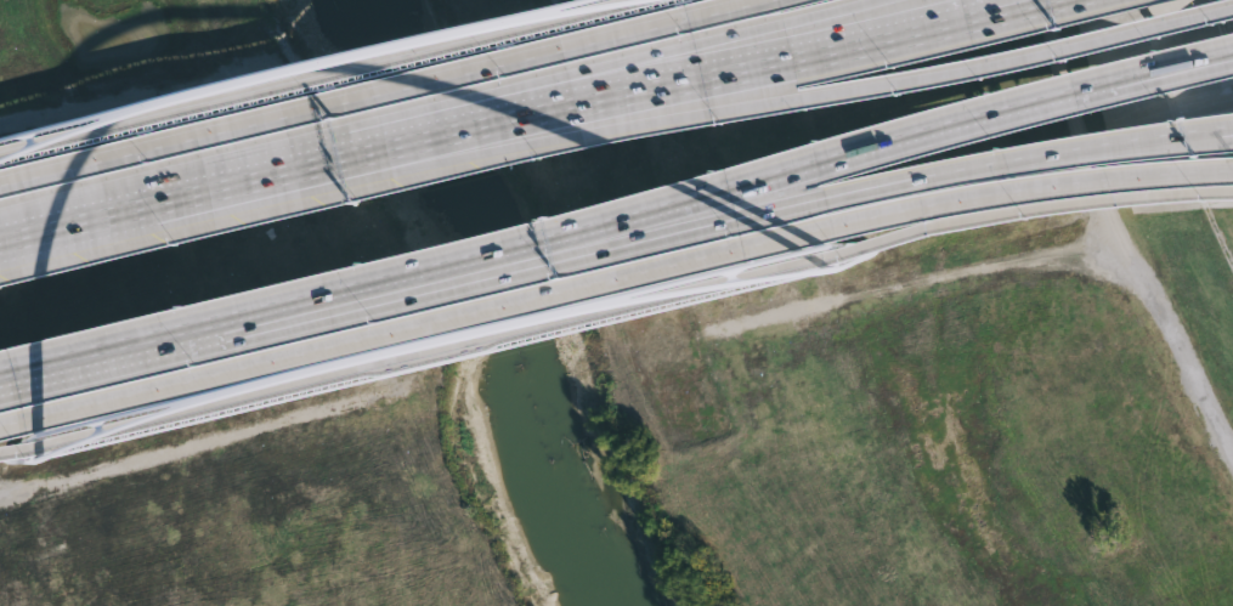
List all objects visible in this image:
road: (986, 6)
road: (1144, 22)
road: (737, 43)
road: (782, 49)
road: (927, 72)
road: (306, 73)
road: (373, 91)
road: (511, 106)
road: (607, 111)
road: (1011, 111)
road: (1178, 137)
road: (316, 153)
road: (1014, 157)
road: (106, 206)
road: (664, 209)
road: (669, 225)
road: (1121, 233)
road: (612, 273)
park: (616, 302)
road: (613, 305)
river: (505, 306)
road: (270, 313)

